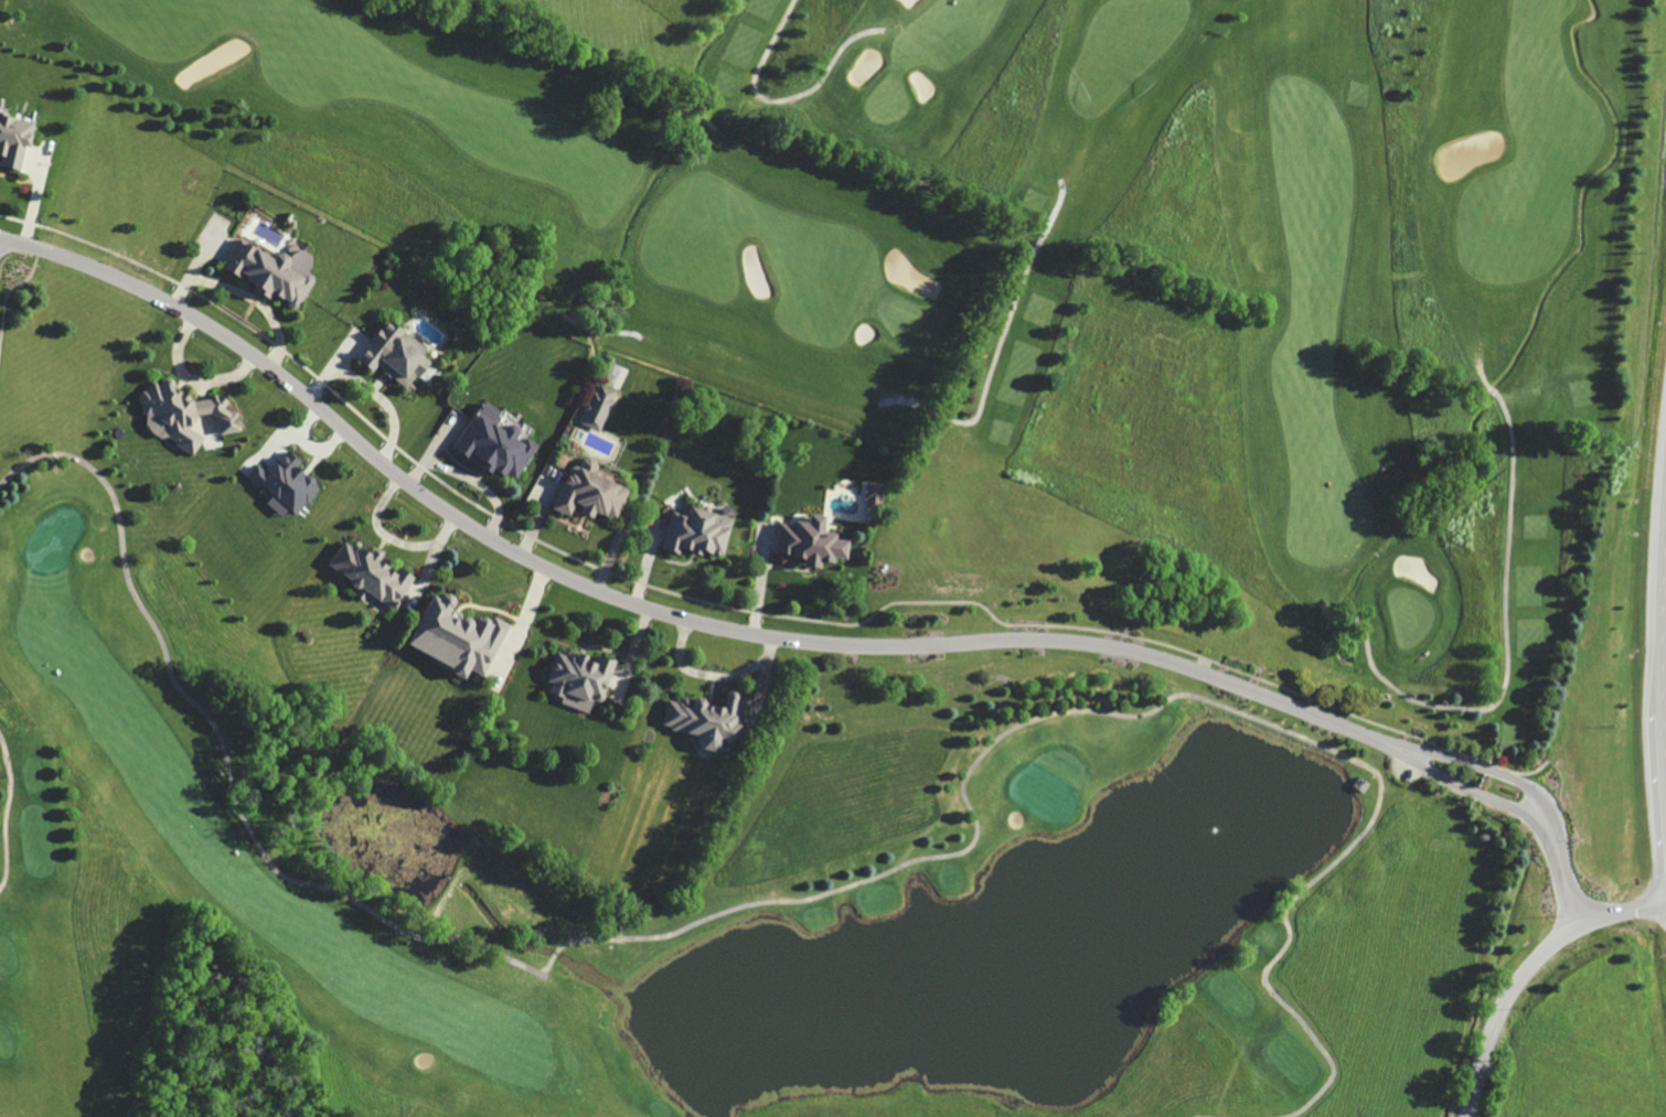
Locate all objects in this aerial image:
road: (782, 99)
building: (12, 140)
park: (1045, 262)
building: (270, 272)
road: (242, 294)
road: (997, 345)
building: (393, 354)
road: (1484, 377)
building: (177, 411)
building: (494, 443)
building: (289, 484)
building: (873, 492)
building: (589, 493)
building: (695, 534)
building: (808, 541)
building: (369, 572)
road: (644, 606)
building: (455, 634)
road: (1506, 645)
road: (1663, 651)
building: (578, 676)
building: (704, 719)
road: (1481, 767)
road: (1465, 788)
road: (1562, 883)
park: (679, 903)
road: (1524, 969)

